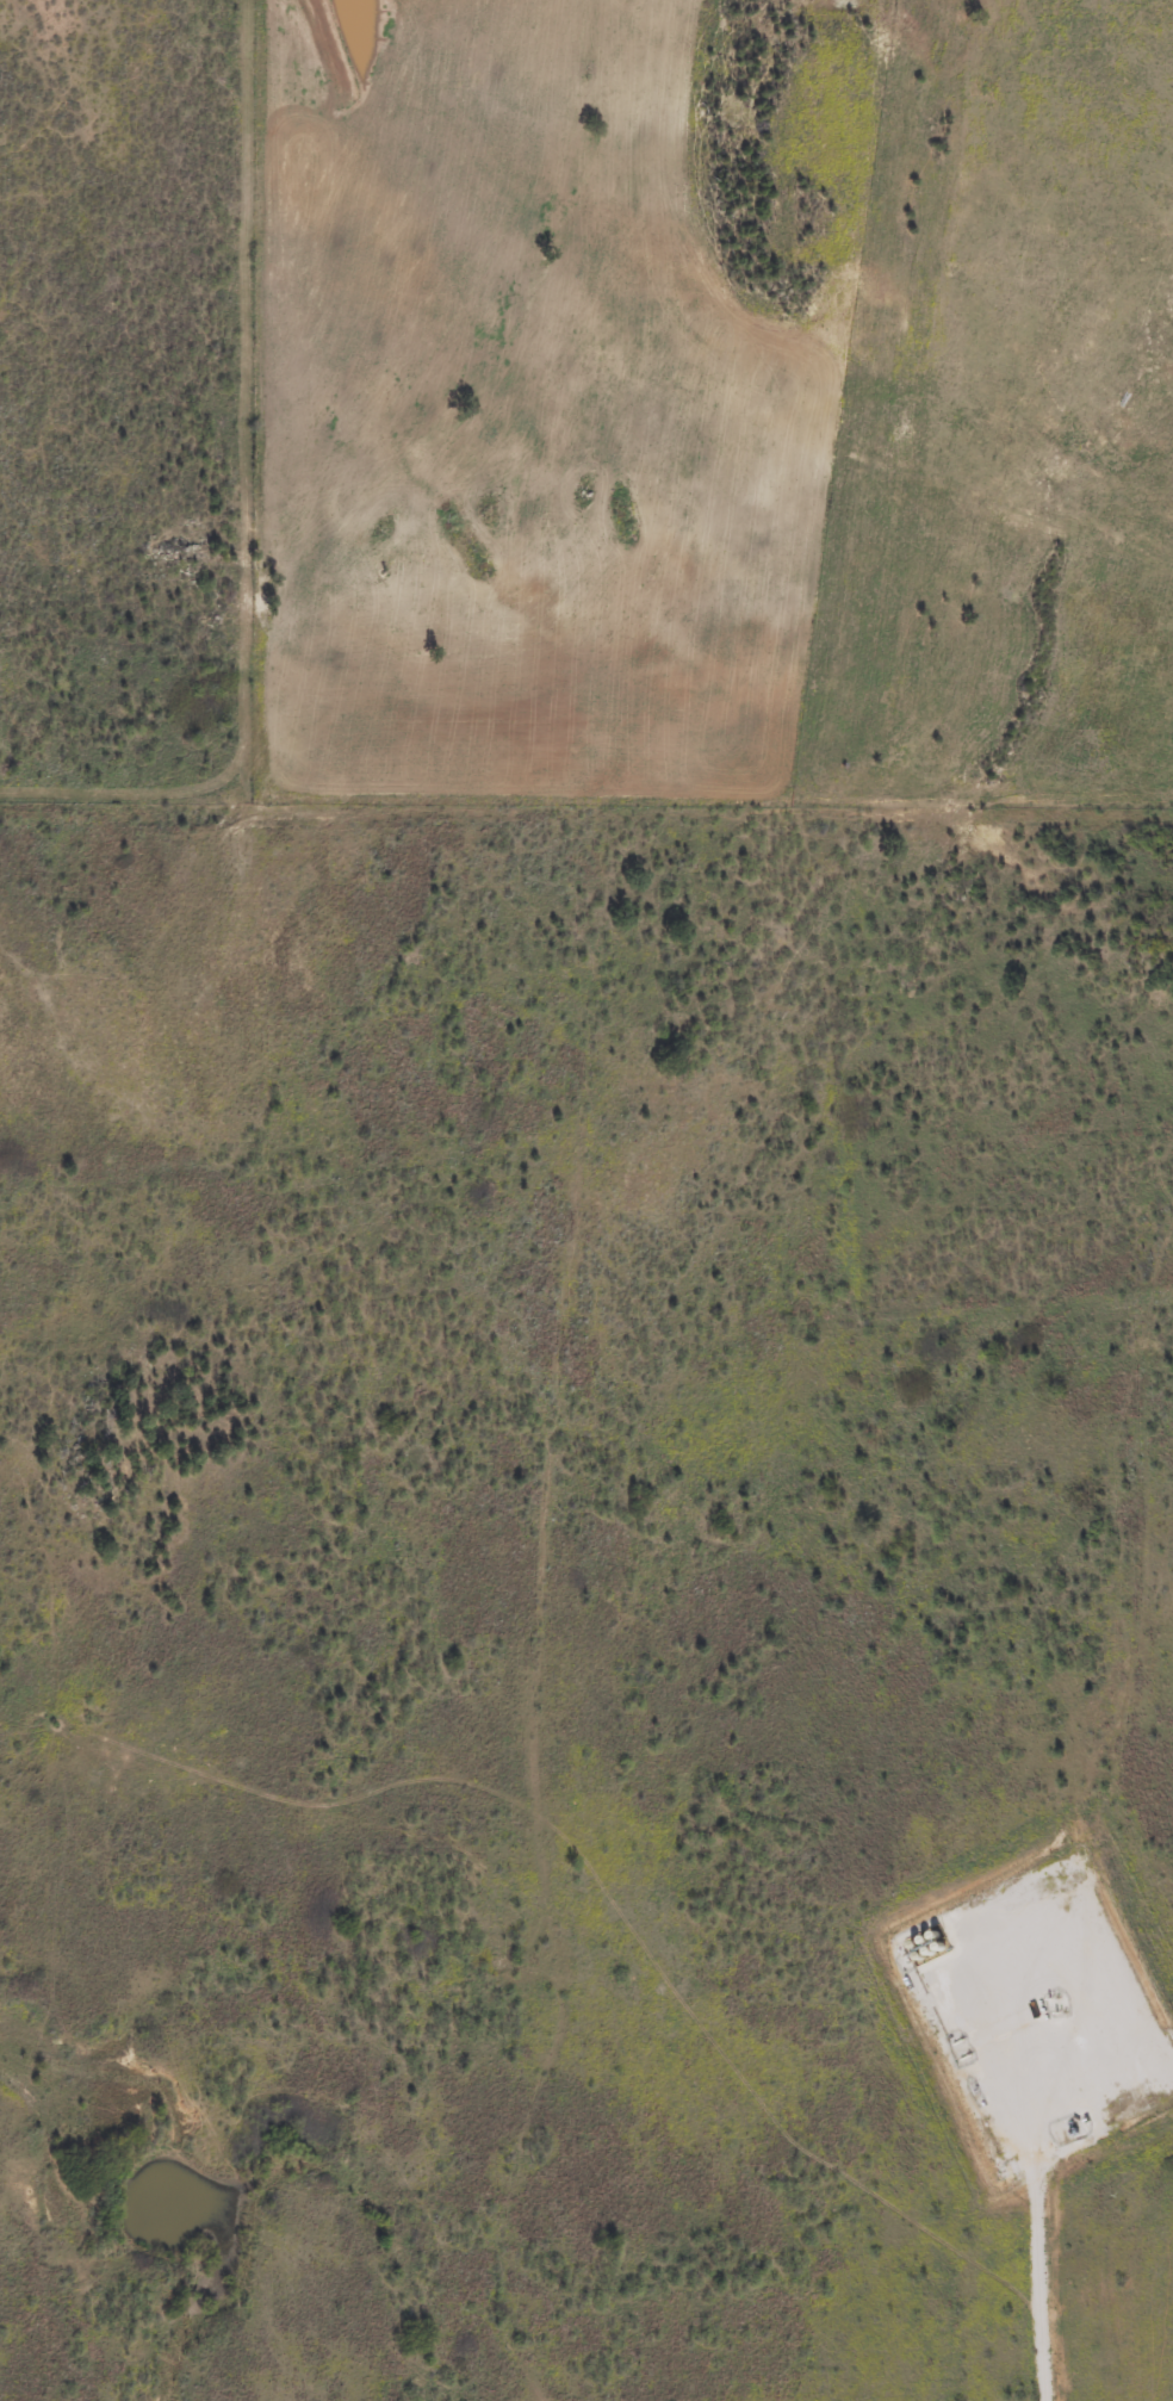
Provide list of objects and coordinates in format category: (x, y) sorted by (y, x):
road: (1030, 2258)

